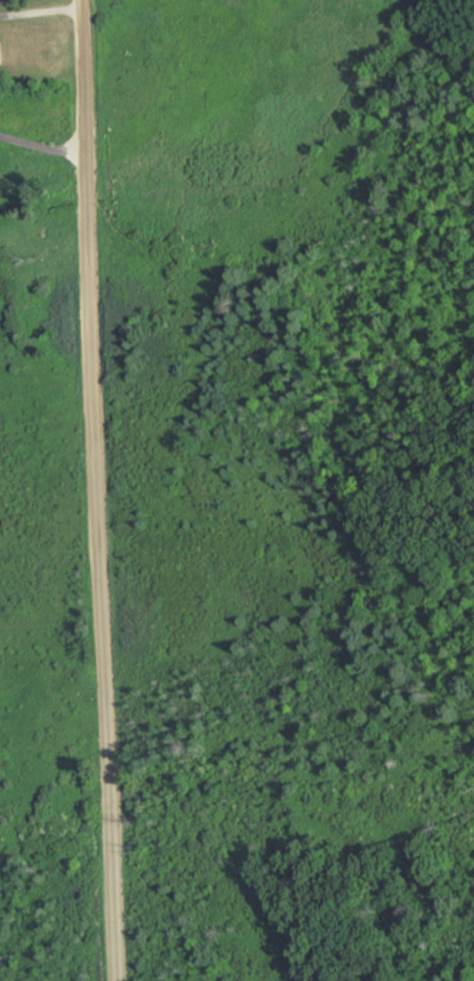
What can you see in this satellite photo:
road: (39, 11)
road: (40, 138)
road: (97, 490)
park: (251, 714)

